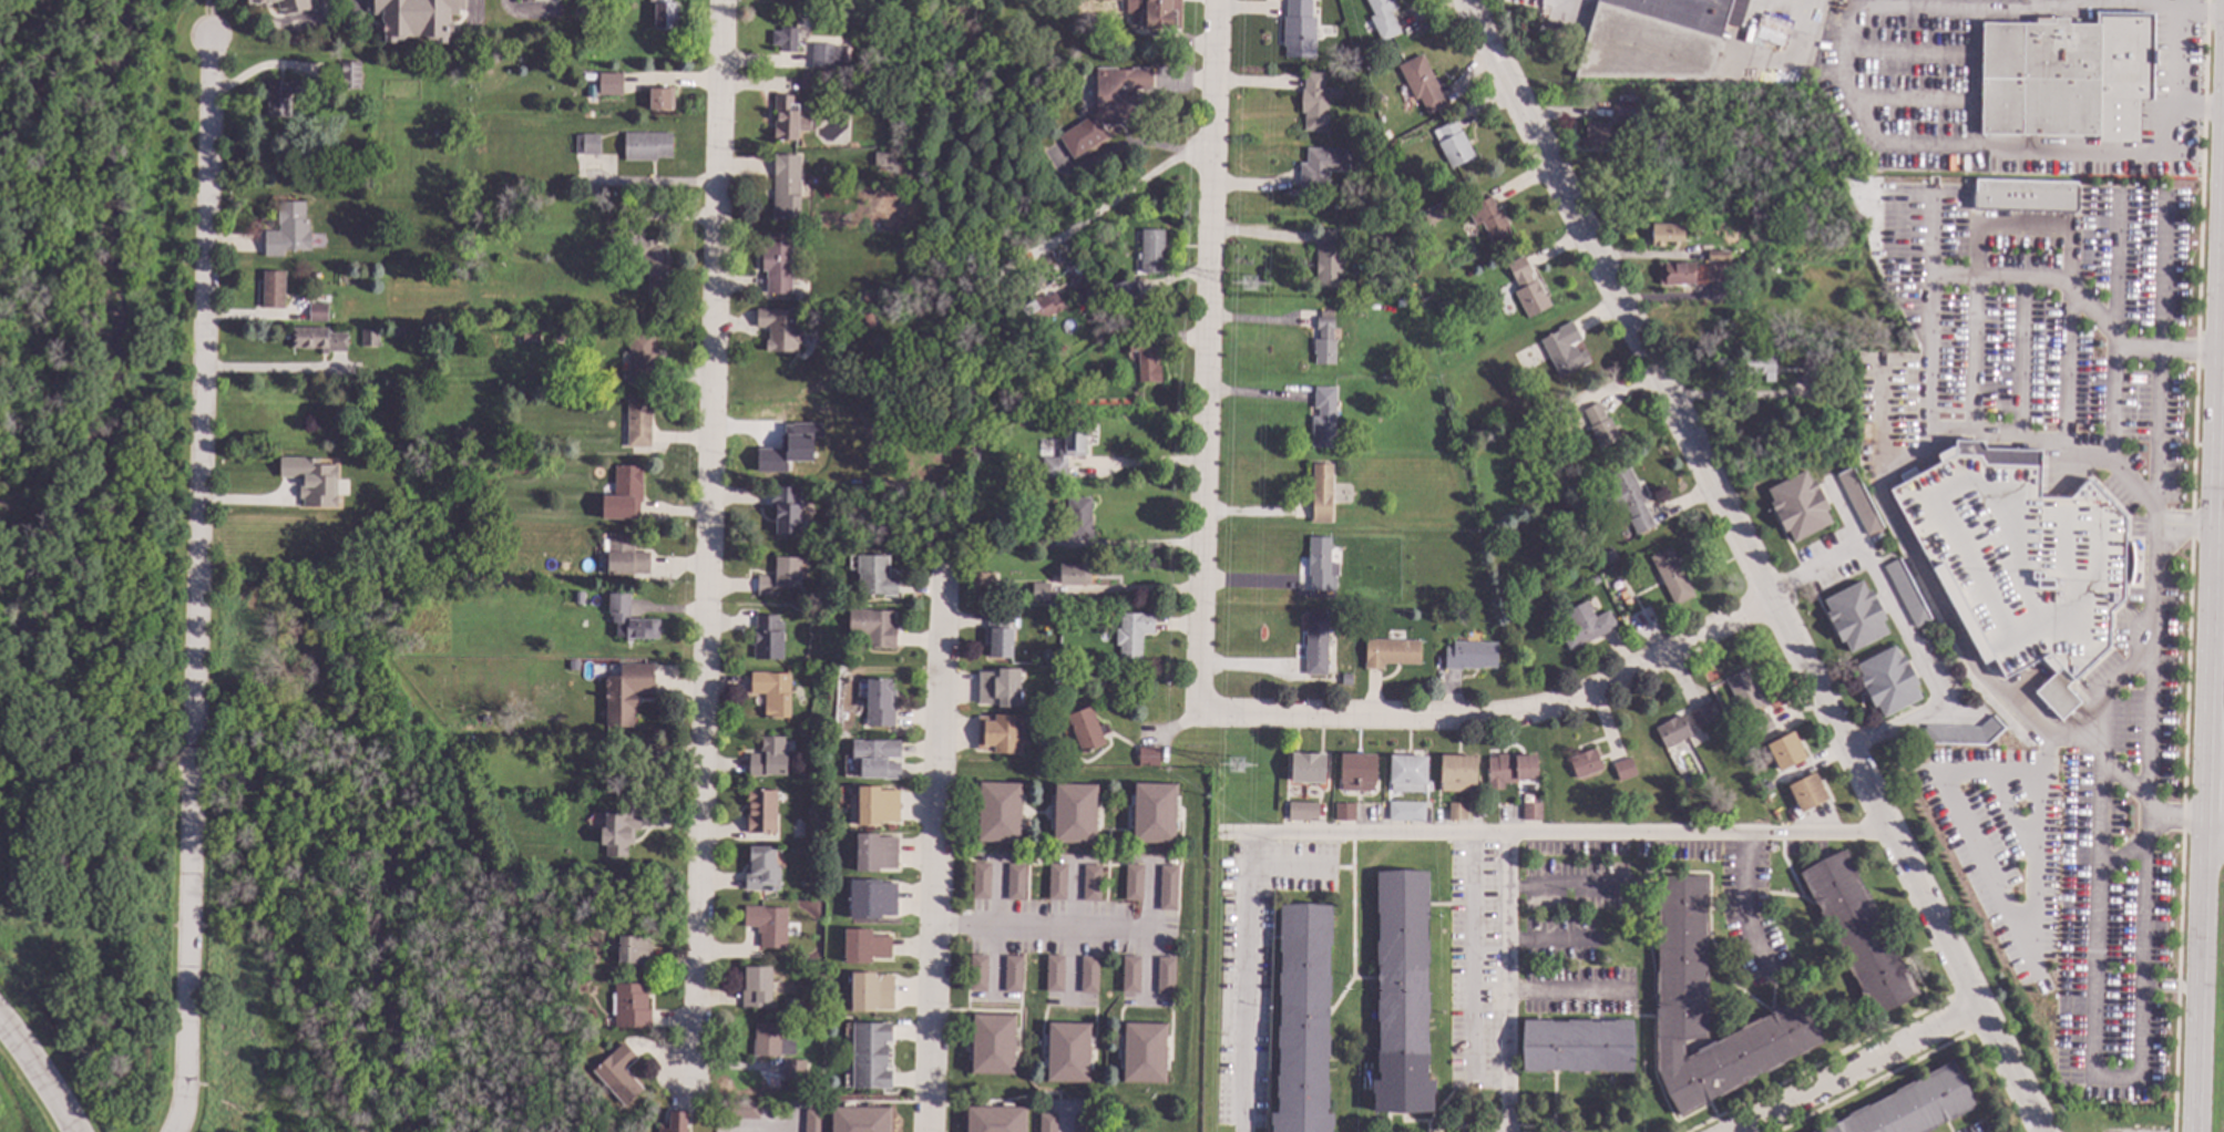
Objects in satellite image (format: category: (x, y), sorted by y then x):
building: (533, 0)
building: (781, 0)
building: (601, 1)
building: (283, 4)
road: (1789, 9)
building: (1154, 13)
building: (664, 14)
road: (209, 16)
building: (1383, 18)
building: (414, 19)
building: (1299, 30)
building: (1770, 33)
building: (1657, 38)
building: (786, 40)
building: (822, 58)
road: (2173, 58)
building: (845, 60)
building: (1360, 61)
building: (2061, 73)
building: (348, 74)
building: (587, 78)
building: (871, 83)
building: (1421, 84)
building: (611, 85)
building: (280, 96)
building: (662, 99)
building: (1314, 103)
building: (1109, 107)
building: (1625, 115)
river: (146, 119)
building: (787, 119)
building: (1596, 135)
building: (587, 145)
building: (1453, 145)
building: (1398, 146)
building: (646, 147)
building: (1362, 156)
building: (881, 159)
building: (1322, 166)
building: (478, 181)
road: (1135, 184)
building: (787, 187)
building: (2023, 197)
building: (1489, 219)
building: (1449, 223)
building: (288, 231)
building: (1667, 235)
building: (1151, 251)
building: (1718, 257)
building: (1329, 259)
building: (777, 264)
building: (653, 267)
building: (1718, 272)
building: (1677, 275)
power tower: (1252, 284)
building: (1526, 289)
building: (273, 290)
building: (1084, 291)
building: (1124, 294)
building: (1443, 307)
building: (1041, 309)
building: (318, 312)
building: (867, 317)
building: (571, 319)
building: (779, 329)
building: (398, 333)
building: (521, 336)
building: (316, 339)
building: (369, 339)
building: (1324, 342)
building: (1561, 350)
road: (2171, 350)
building: (1503, 357)
road: (1207, 358)
building: (640, 359)
building: (1145, 361)
building: (1492, 361)
building: (1807, 362)
building: (1761, 366)
road: (266, 370)
road: (1927, 382)
road: (201, 387)
building: (1038, 399)
building: (1561, 413)
building: (1323, 419)
building: (638, 421)
building: (1537, 423)
building: (1600, 426)
building: (955, 439)
building: (522, 442)
building: (790, 447)
road: (2213, 450)
building: (1065, 453)
building: (973, 457)
building: (520, 465)
building: (311, 480)
building: (624, 494)
building: (1321, 494)
building: (1628, 501)
building: (1859, 502)
building: (1798, 506)
road: (2155, 506)
building: (786, 512)
building: (1078, 518)
road: (2183, 532)
building: (1045, 539)
road: (707, 541)
road: (1134, 547)
park: (91, 549)
building: (625, 556)
building: (1608, 556)
building: (2019, 563)
building: (1321, 566)
road: (1750, 566)
building: (1074, 575)
building: (780, 577)
building: (1671, 577)
building: (875, 578)
building: (984, 579)
building: (545, 587)
building: (1041, 593)
building: (1906, 594)
building: (1622, 595)
building: (578, 598)
building: (1628, 603)
building: (1855, 617)
building: (629, 620)
building: (1585, 626)
building: (872, 627)
road: (1903, 627)
building: (1133, 635)
building: (998, 636)
building: (767, 638)
building: (1316, 645)
road: (1673, 651)
building: (1391, 654)
building: (1470, 656)
building: (1346, 681)
building: (1055, 682)
building: (1887, 682)
building: (1000, 689)
building: (1744, 692)
building: (626, 693)
building: (772, 693)
building: (880, 703)
river: (122, 711)
building: (1701, 717)
road: (1391, 719)
building: (1762, 724)
building: (1087, 730)
building: (1673, 732)
building: (1750, 733)
building: (998, 734)
building: (1964, 734)
building: (1785, 752)
building: (1148, 757)
building: (768, 758)
building: (877, 759)
building: (650, 761)
road: (2102, 762)
building: (1585, 764)
power tower: (1238, 766)
building: (1306, 768)
building: (1510, 770)
building: (1623, 770)
building: (1357, 772)
building: (801, 773)
building: (1457, 773)
road: (192, 774)
building: (1407, 774)
building: (1934, 774)
road: (2041, 774)
building: (1765, 788)
building: (1806, 793)
building: (1771, 799)
building: (2023, 802)
building: (877, 806)
building: (761, 812)
building: (998, 812)
building: (1302, 812)
building: (1405, 812)
building: (1457, 812)
building: (1531, 812)
building: (1074, 813)
building: (1154, 813)
building: (1344, 813)
building: (1779, 814)
road: (2176, 820)
road: (2213, 829)
building: (619, 830)
road: (1558, 833)
building: (812, 835)
road: (935, 852)
building: (875, 853)
building: (762, 871)
building: (981, 882)
building: (1015, 883)
building: (1057, 883)
building: (1134, 883)
building: (1091, 884)
building: (1168, 888)
building: (872, 899)
road: (1742, 899)
park: (361, 904)
building: (768, 926)
road: (1050, 928)
building: (1858, 934)
road: (2144, 946)
building: (864, 947)
building: (634, 953)
road: (1469, 958)
road: (187, 970)
building: (977, 974)
building: (1013, 975)
building: (1054, 975)
building: (1088, 975)
building: (1130, 975)
building: (1166, 976)
road: (2197, 978)
road: (1244, 982)
road: (1505, 982)
building: (756, 988)
road: (1561, 989)
building: (871, 992)
building: (1402, 995)
building: (1681, 996)
building: (631, 1007)
building: (1303, 1020)
building: (770, 1042)
building: (992, 1044)
building: (1577, 1047)
building: (1068, 1052)
building: (1144, 1053)
building: (869, 1057)
building: (796, 1070)
road: (39, 1073)
road: (1857, 1073)
building: (618, 1074)
building: (1913, 1107)
building: (740, 1111)
building: (859, 1119)
building: (995, 1119)
building: (813, 1121)
building: (675, 1122)
building: (1047, 1123)
building: (1082, 1123)
road: (793, 1126)

